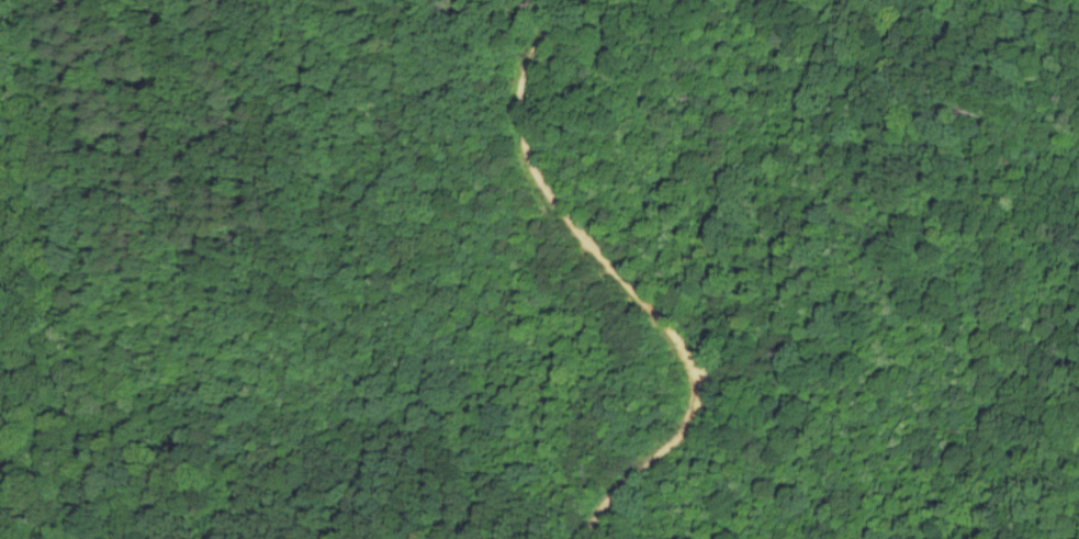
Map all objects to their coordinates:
road: (557, 260)

